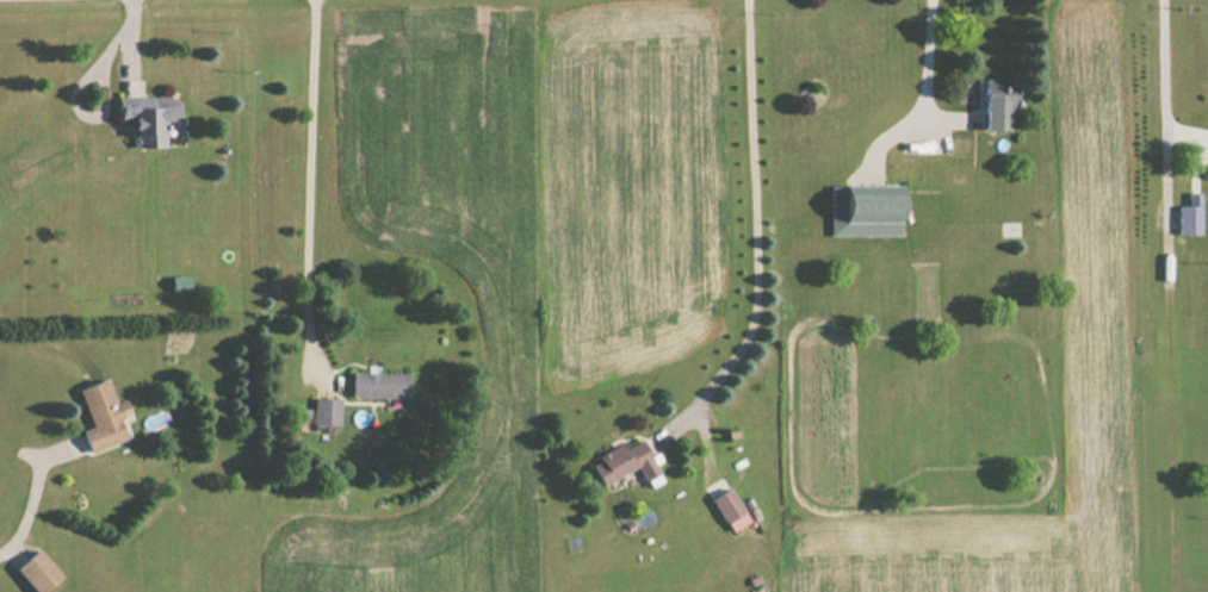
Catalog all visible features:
building: (998, 102)
building: (145, 118)
building: (863, 210)
building: (378, 385)
building: (326, 412)
building: (100, 417)
building: (622, 463)
building: (729, 510)
building: (36, 573)

